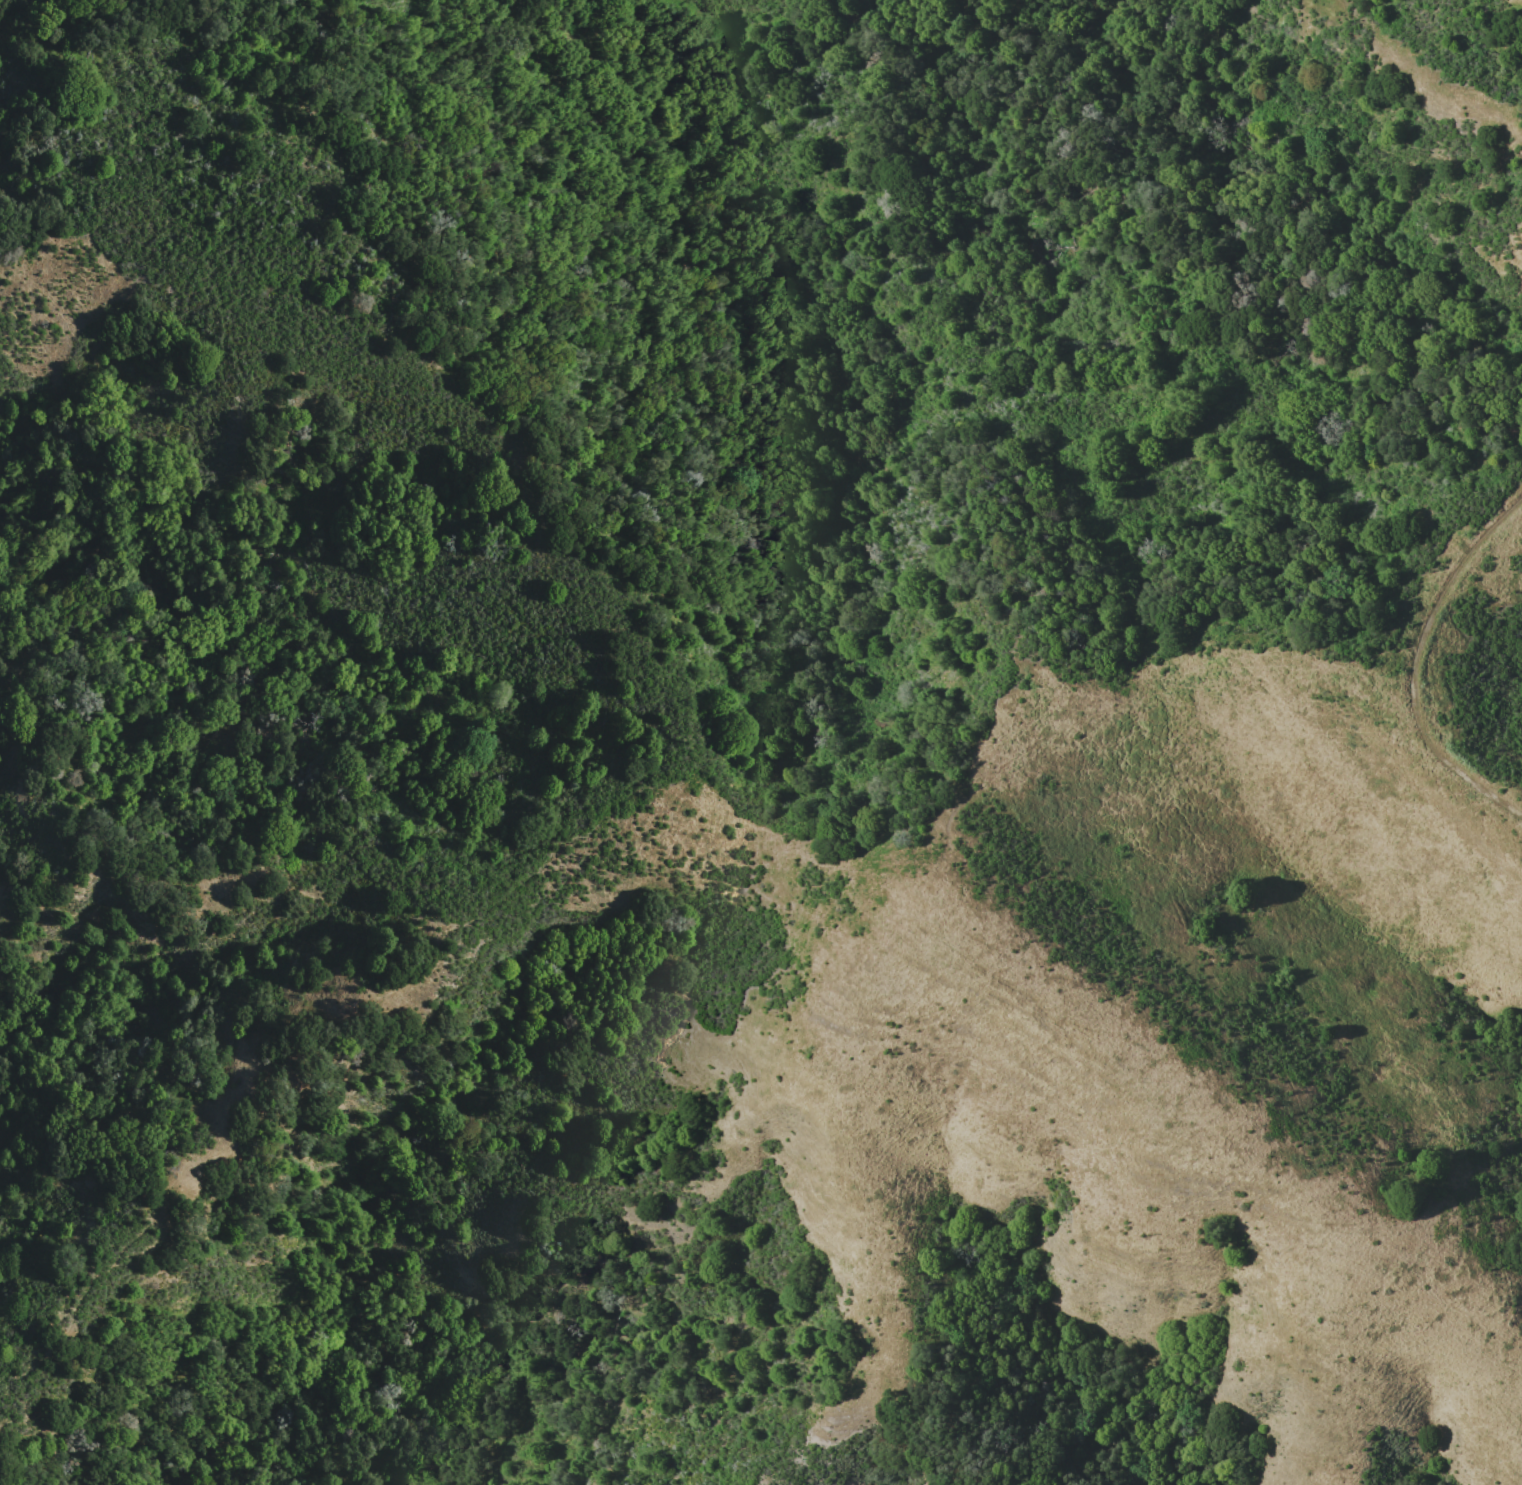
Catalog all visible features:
road: (1416, 669)

